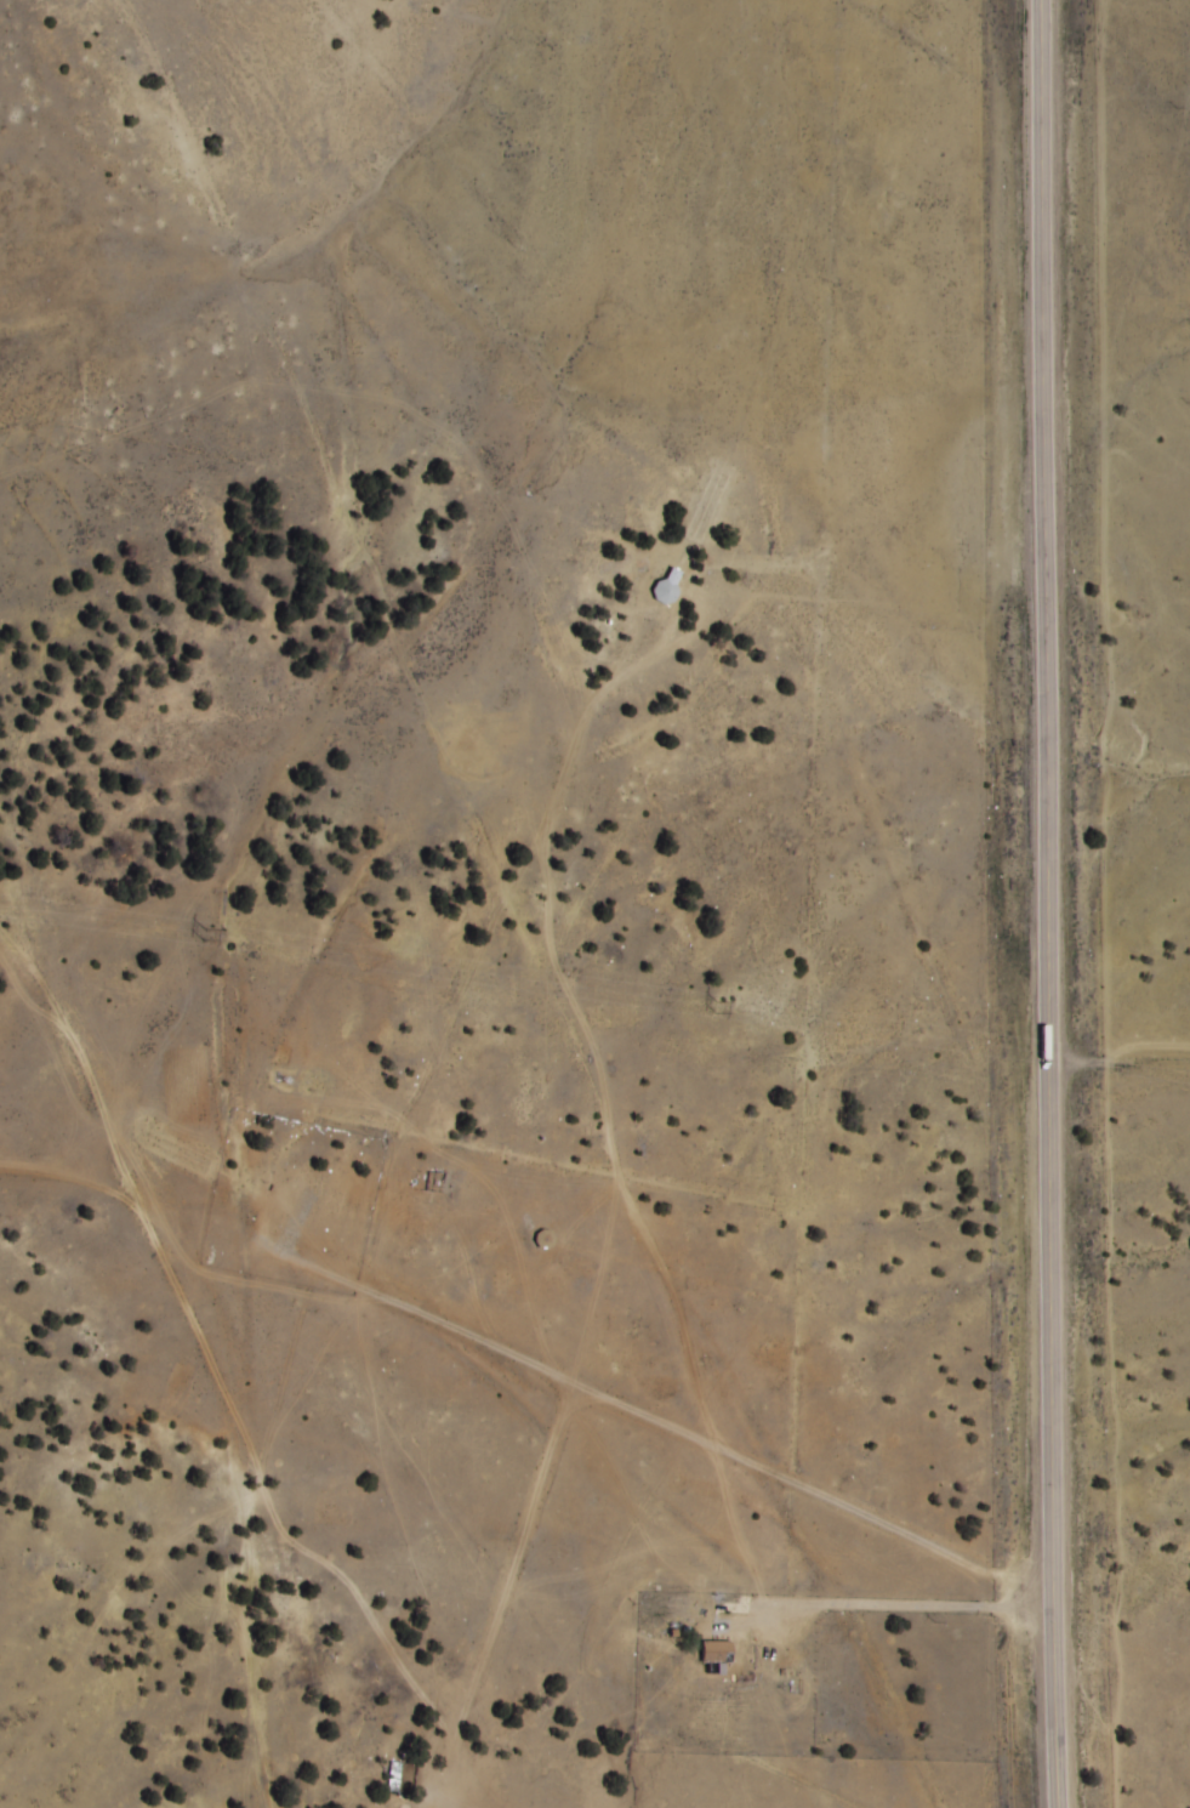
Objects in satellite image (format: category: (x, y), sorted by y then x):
road: (1048, 904)
power tower: (211, 933)
power tower: (719, 1007)
building: (275, 1203)
building: (714, 1651)
building: (392, 1772)
road: (479, 1787)

